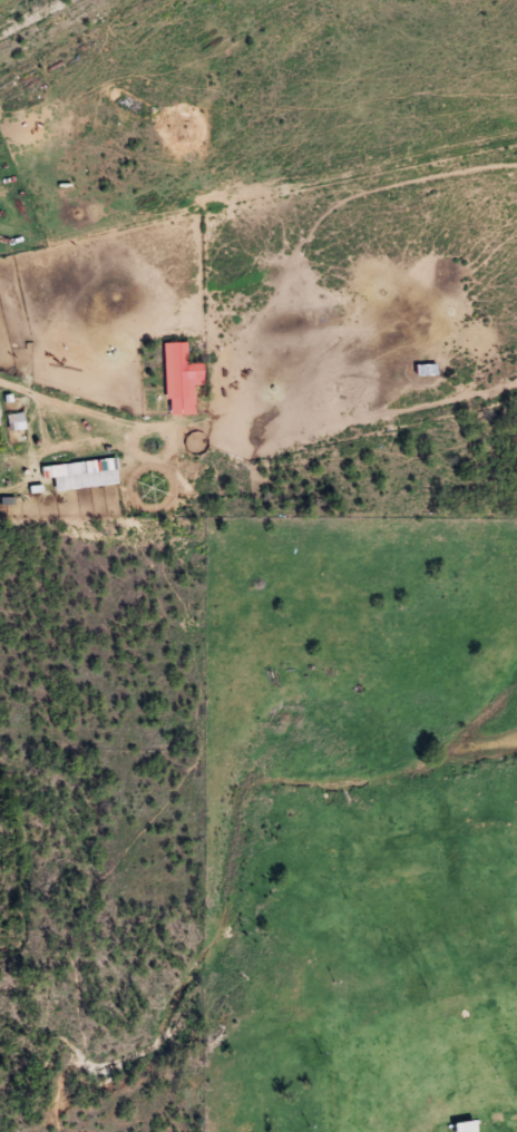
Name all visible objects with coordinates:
railway: (43, 21)
building: (182, 378)
building: (0, 413)
railway: (279, 1043)

